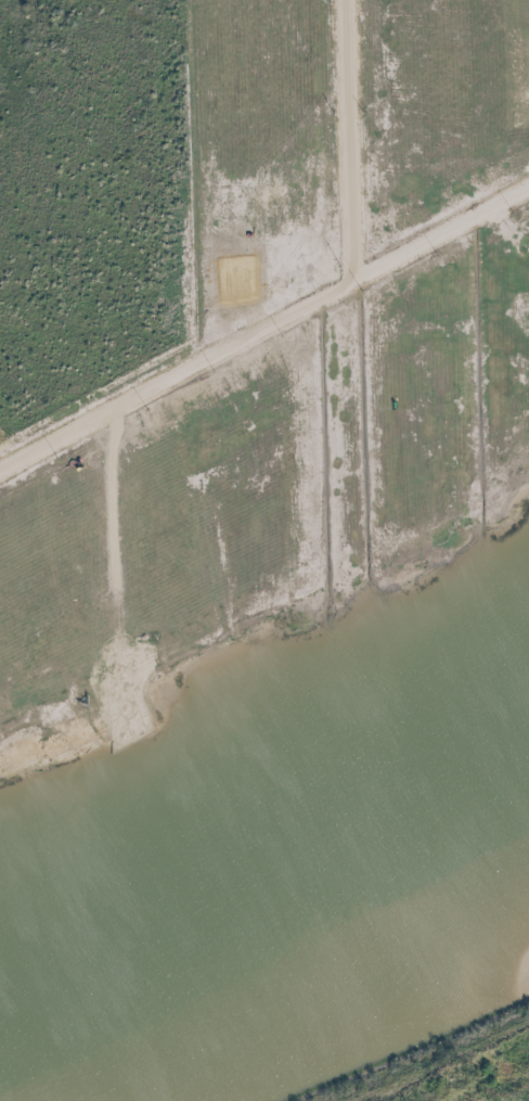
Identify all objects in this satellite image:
road: (12, 742)

